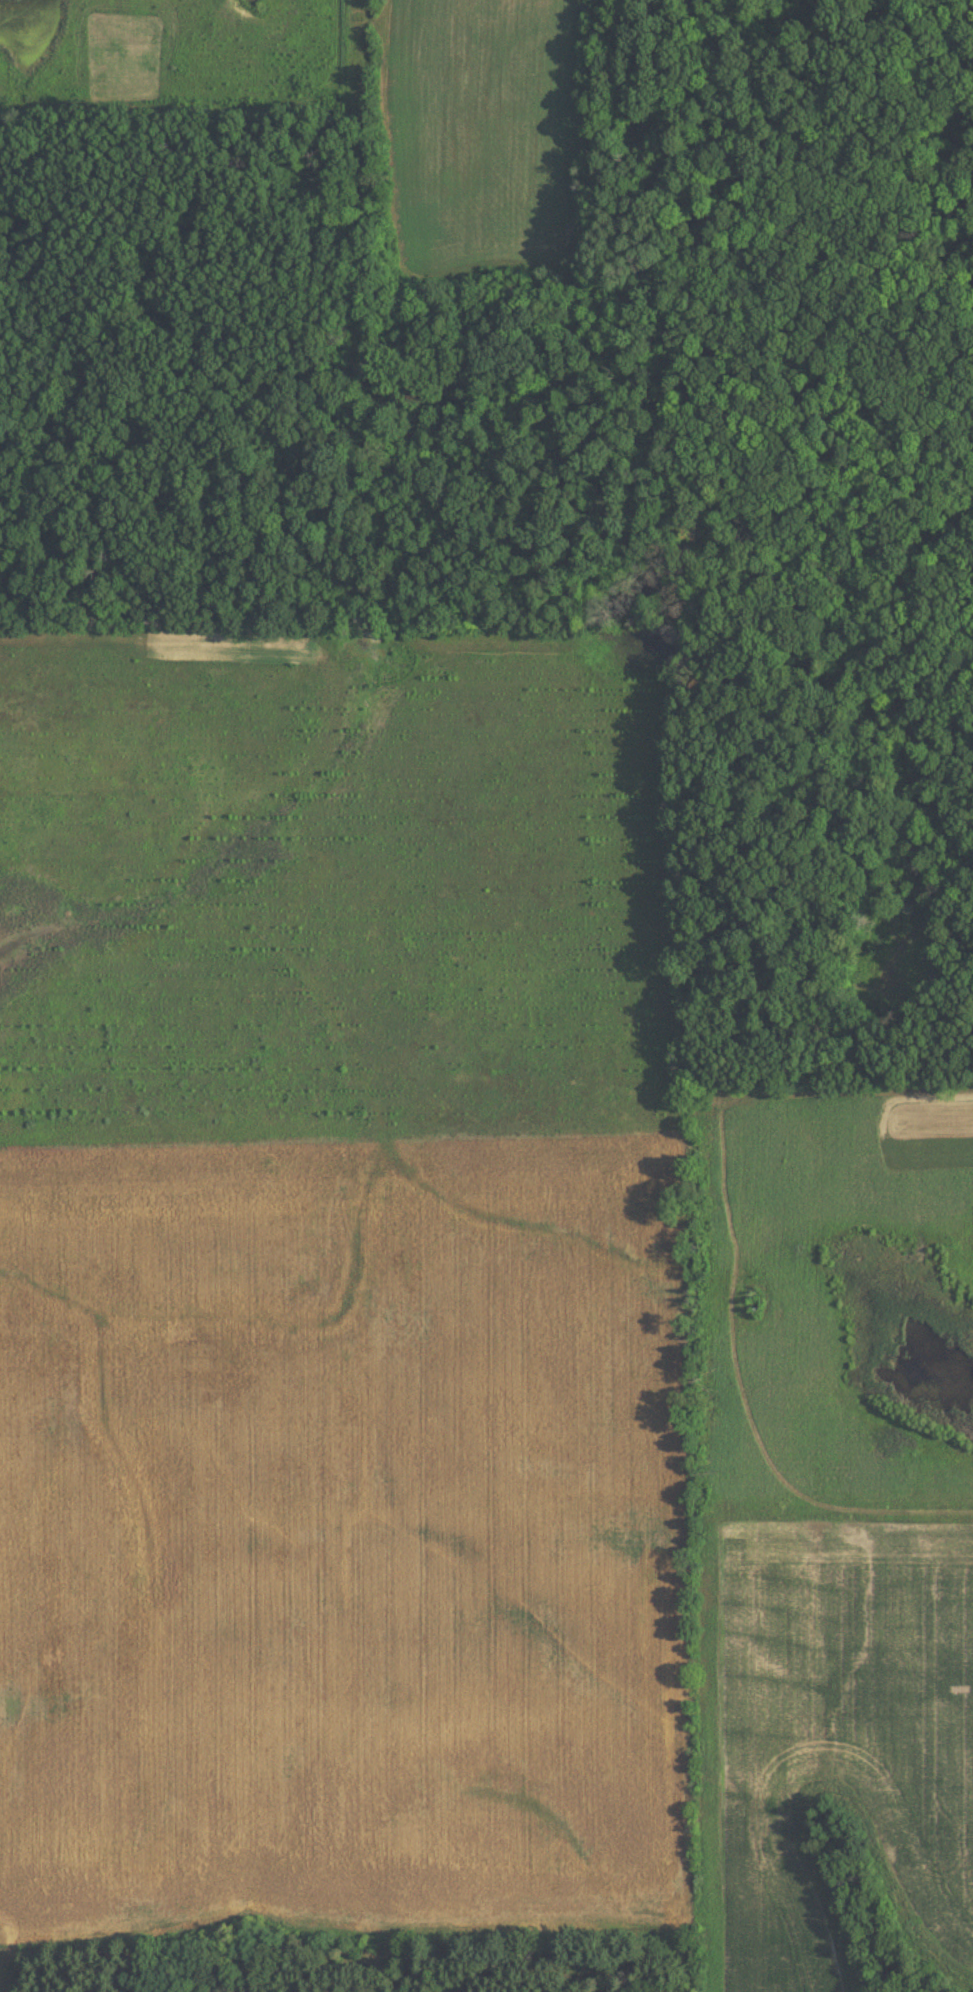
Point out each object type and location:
crop: (339, 1541)
crop: (840, 1732)

